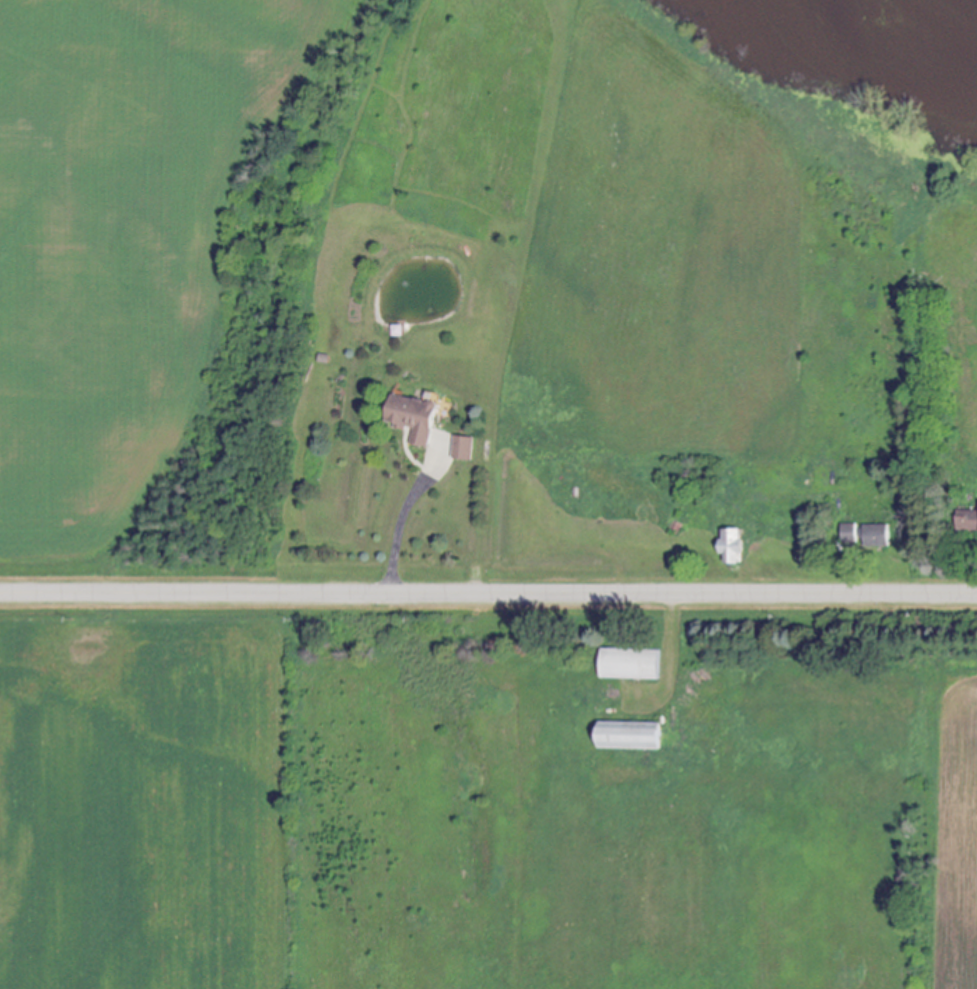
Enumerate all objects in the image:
river: (917, 33)
building: (419, 419)
building: (465, 449)
building: (968, 521)
road: (399, 530)
building: (852, 534)
building: (881, 536)
building: (738, 547)
road: (852, 578)
road: (488, 593)
building: (637, 665)
building: (637, 737)

